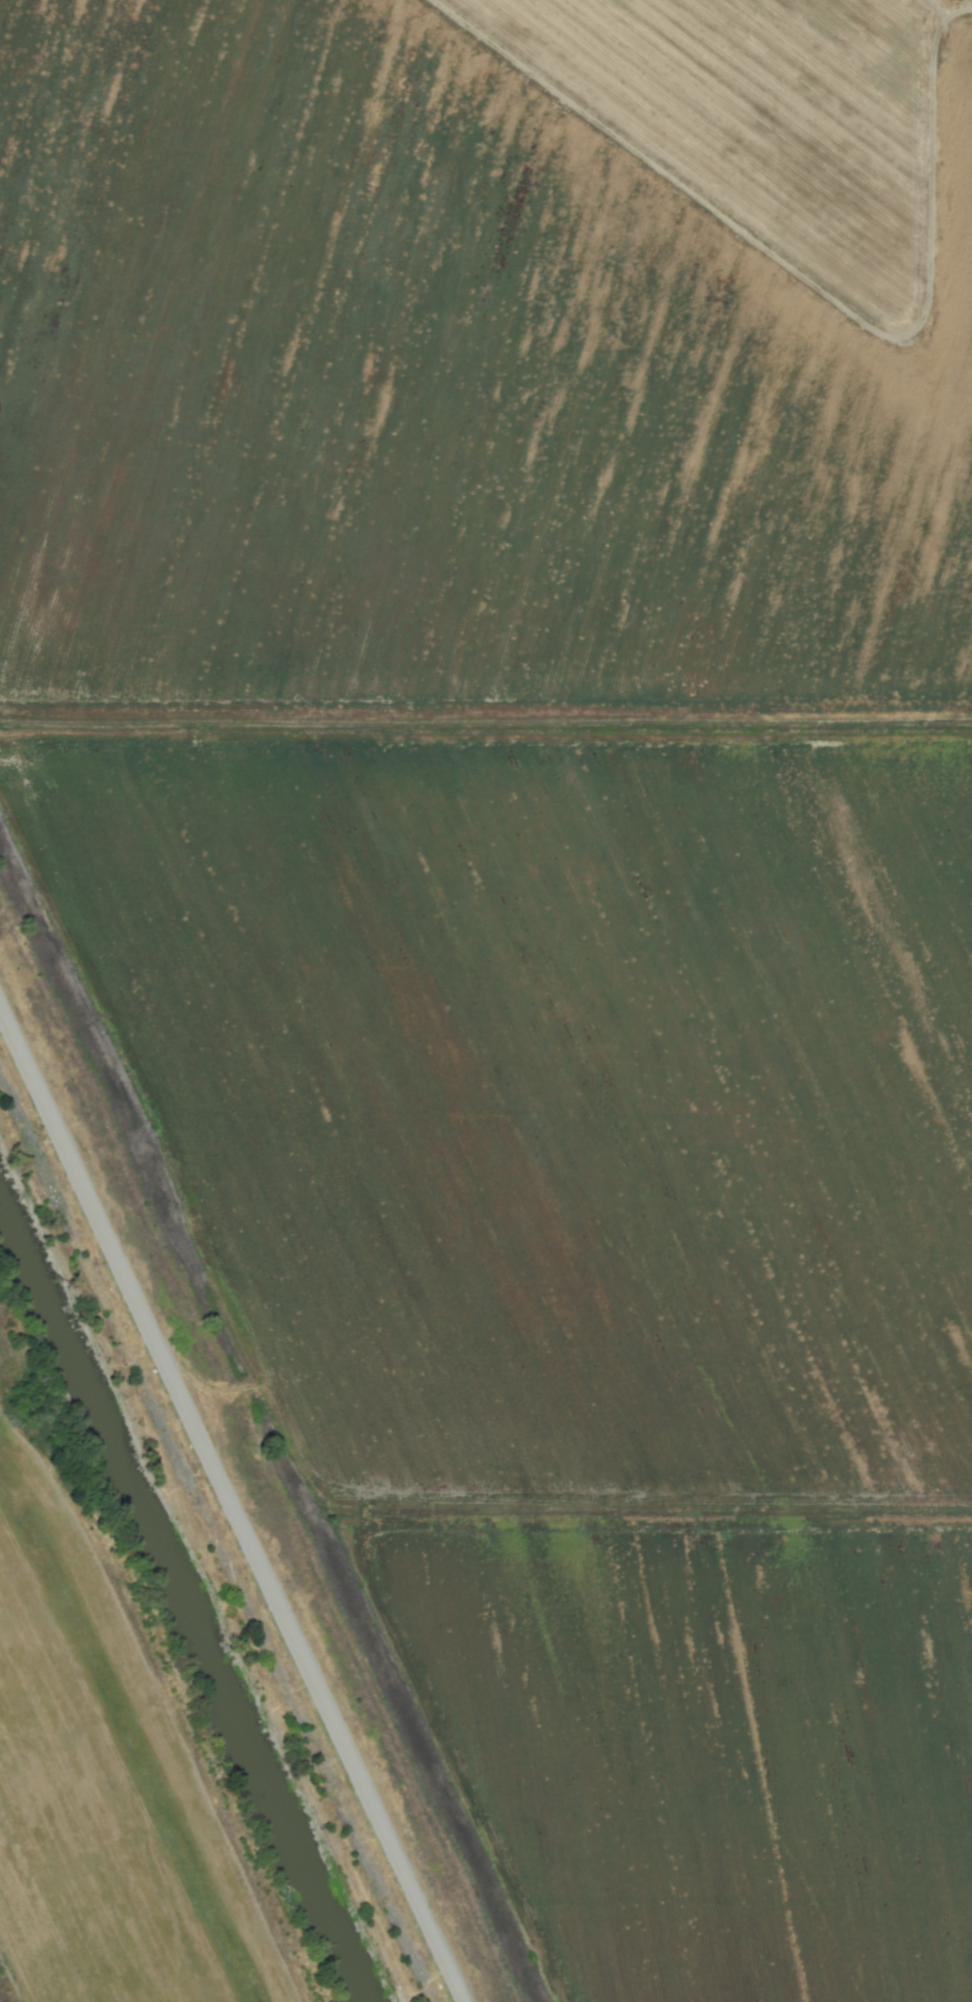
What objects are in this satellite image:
road: (932, 375)
crop: (548, 871)
road: (233, 1506)
crop: (106, 1791)

